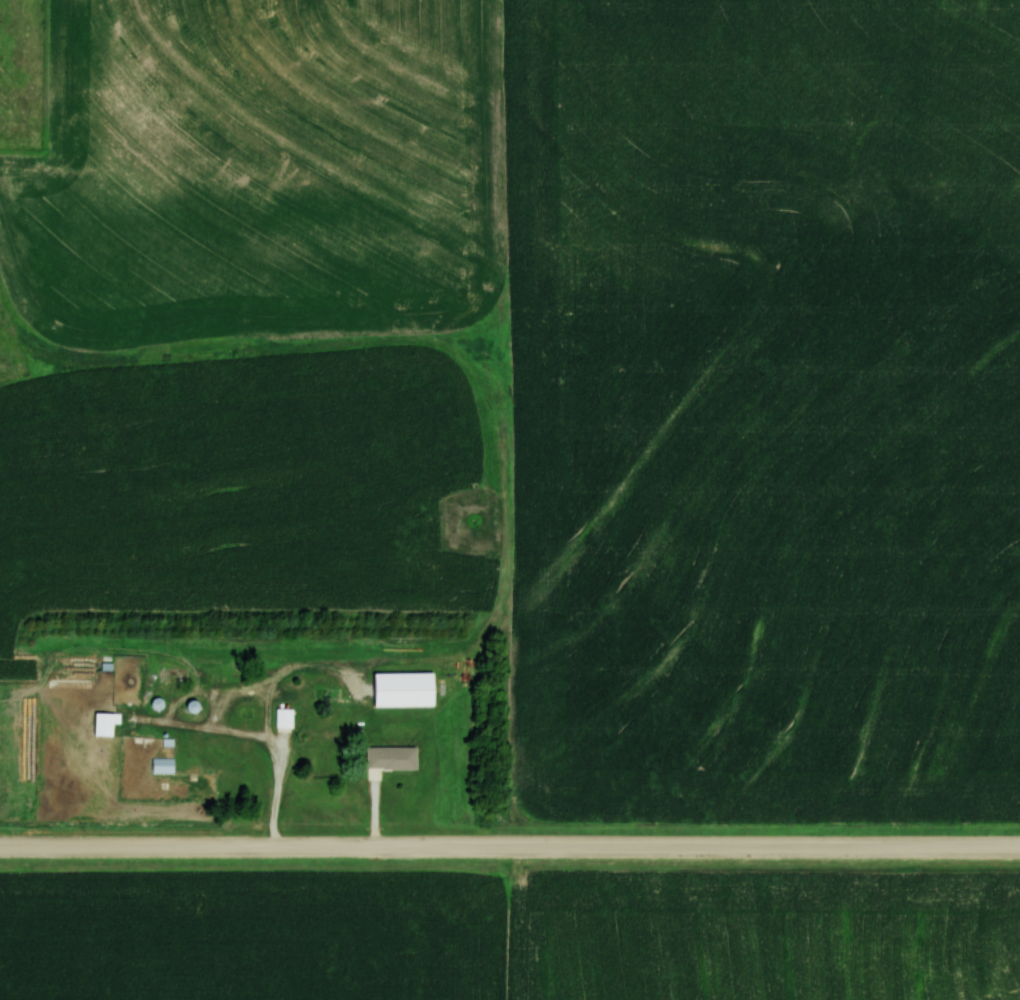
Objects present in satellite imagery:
building: (402, 689)
building: (283, 719)
building: (104, 723)
road: (262, 741)
building: (390, 758)
building: (162, 766)
road: (509, 848)

